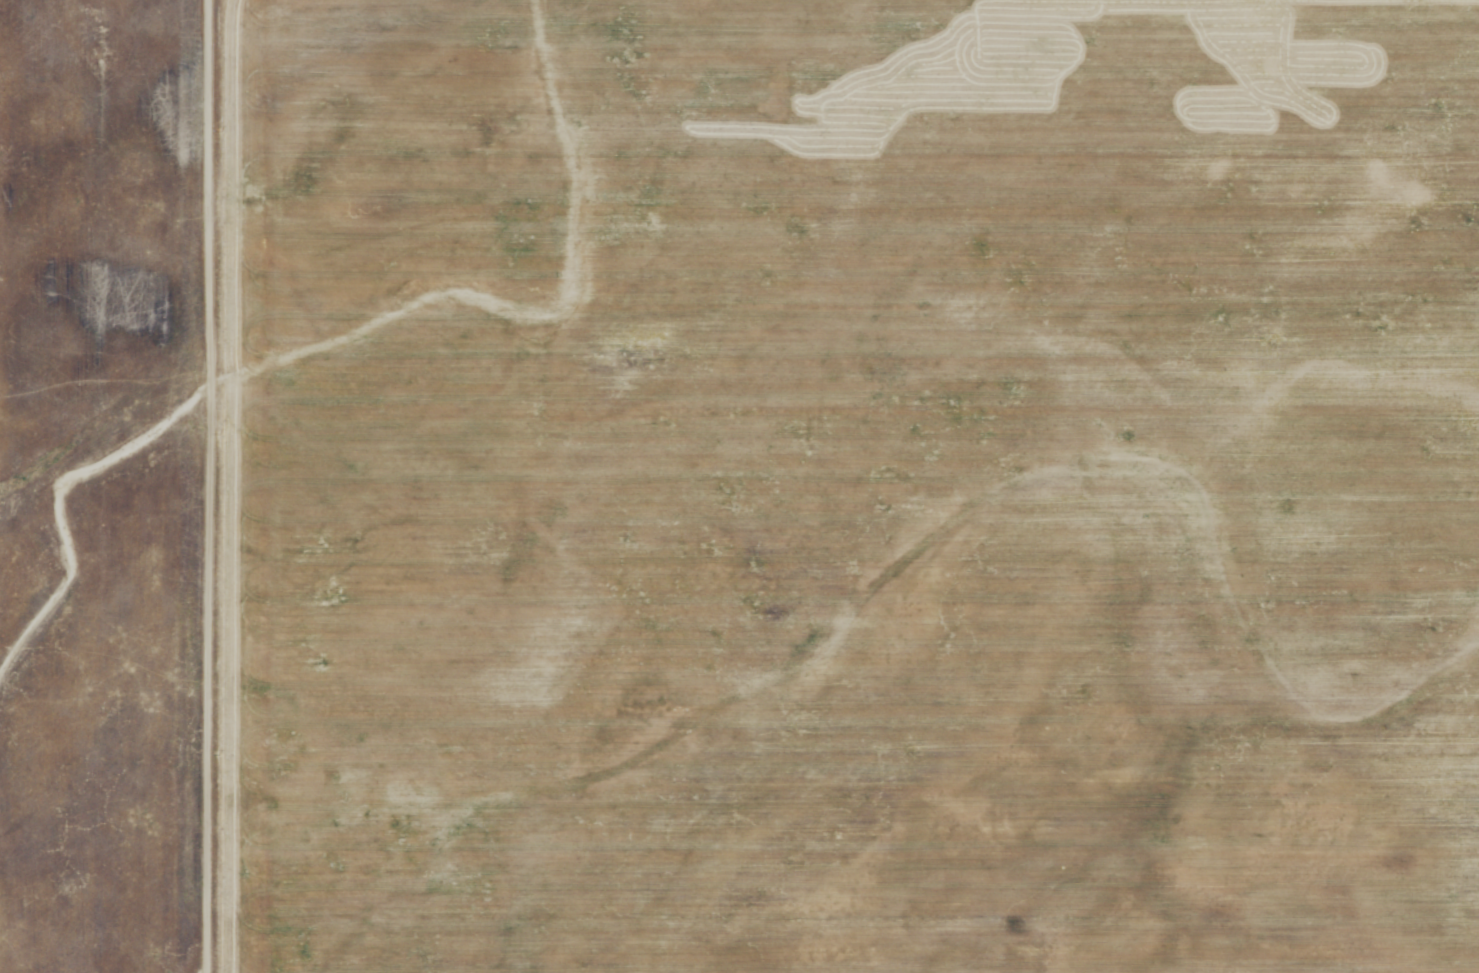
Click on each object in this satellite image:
road: (209, 486)

